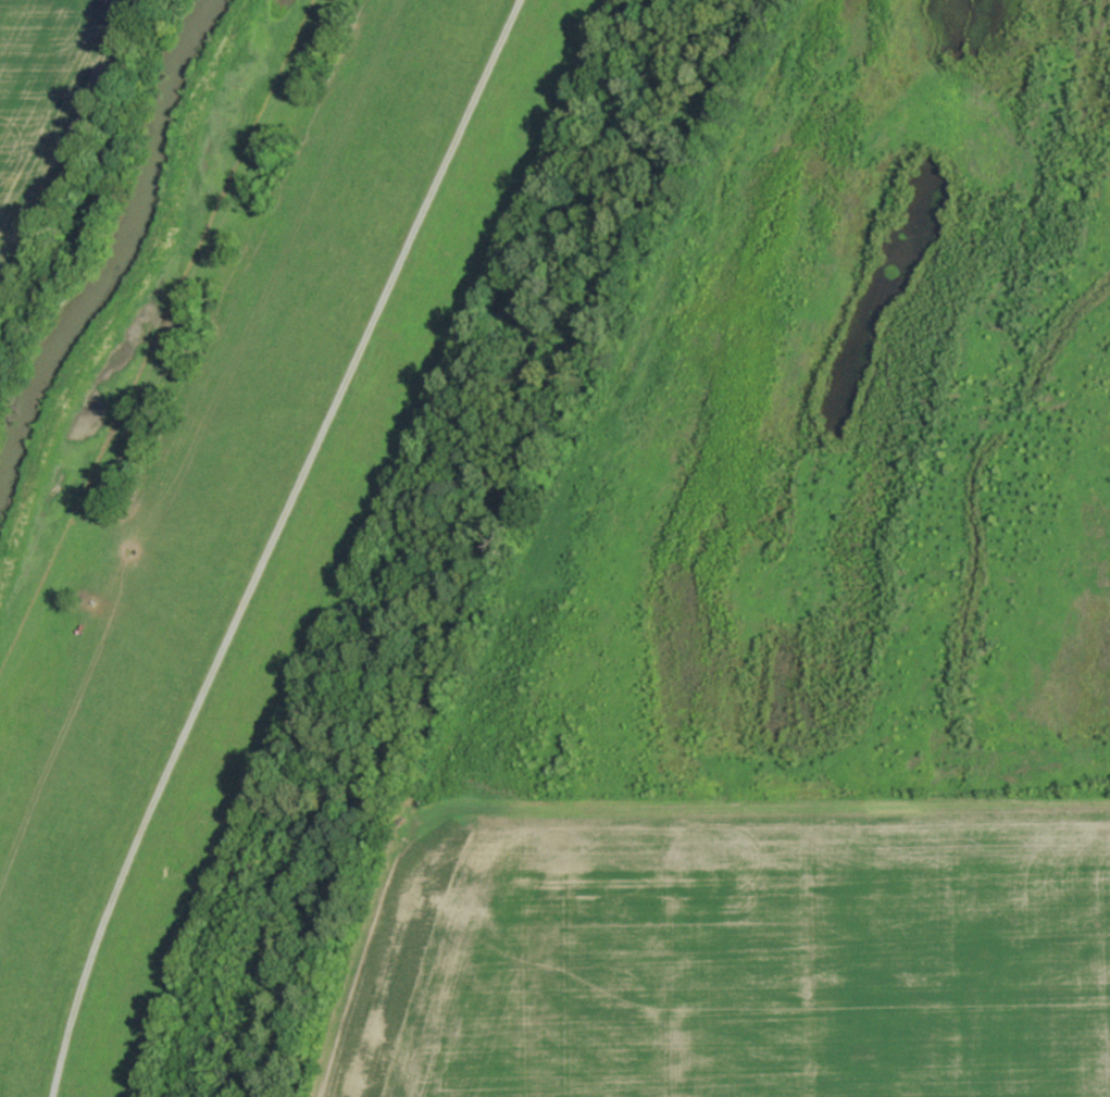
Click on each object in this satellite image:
road: (272, 543)

